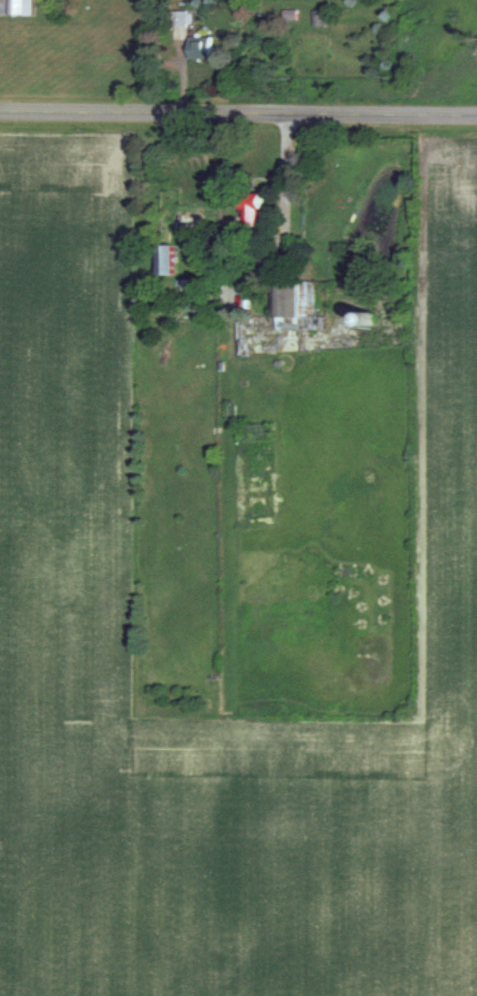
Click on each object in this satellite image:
building: (17, 7)
building: (201, 47)
road: (238, 113)
road: (284, 176)
building: (257, 207)
building: (166, 258)
building: (193, 284)
building: (293, 306)
crop: (65, 625)

